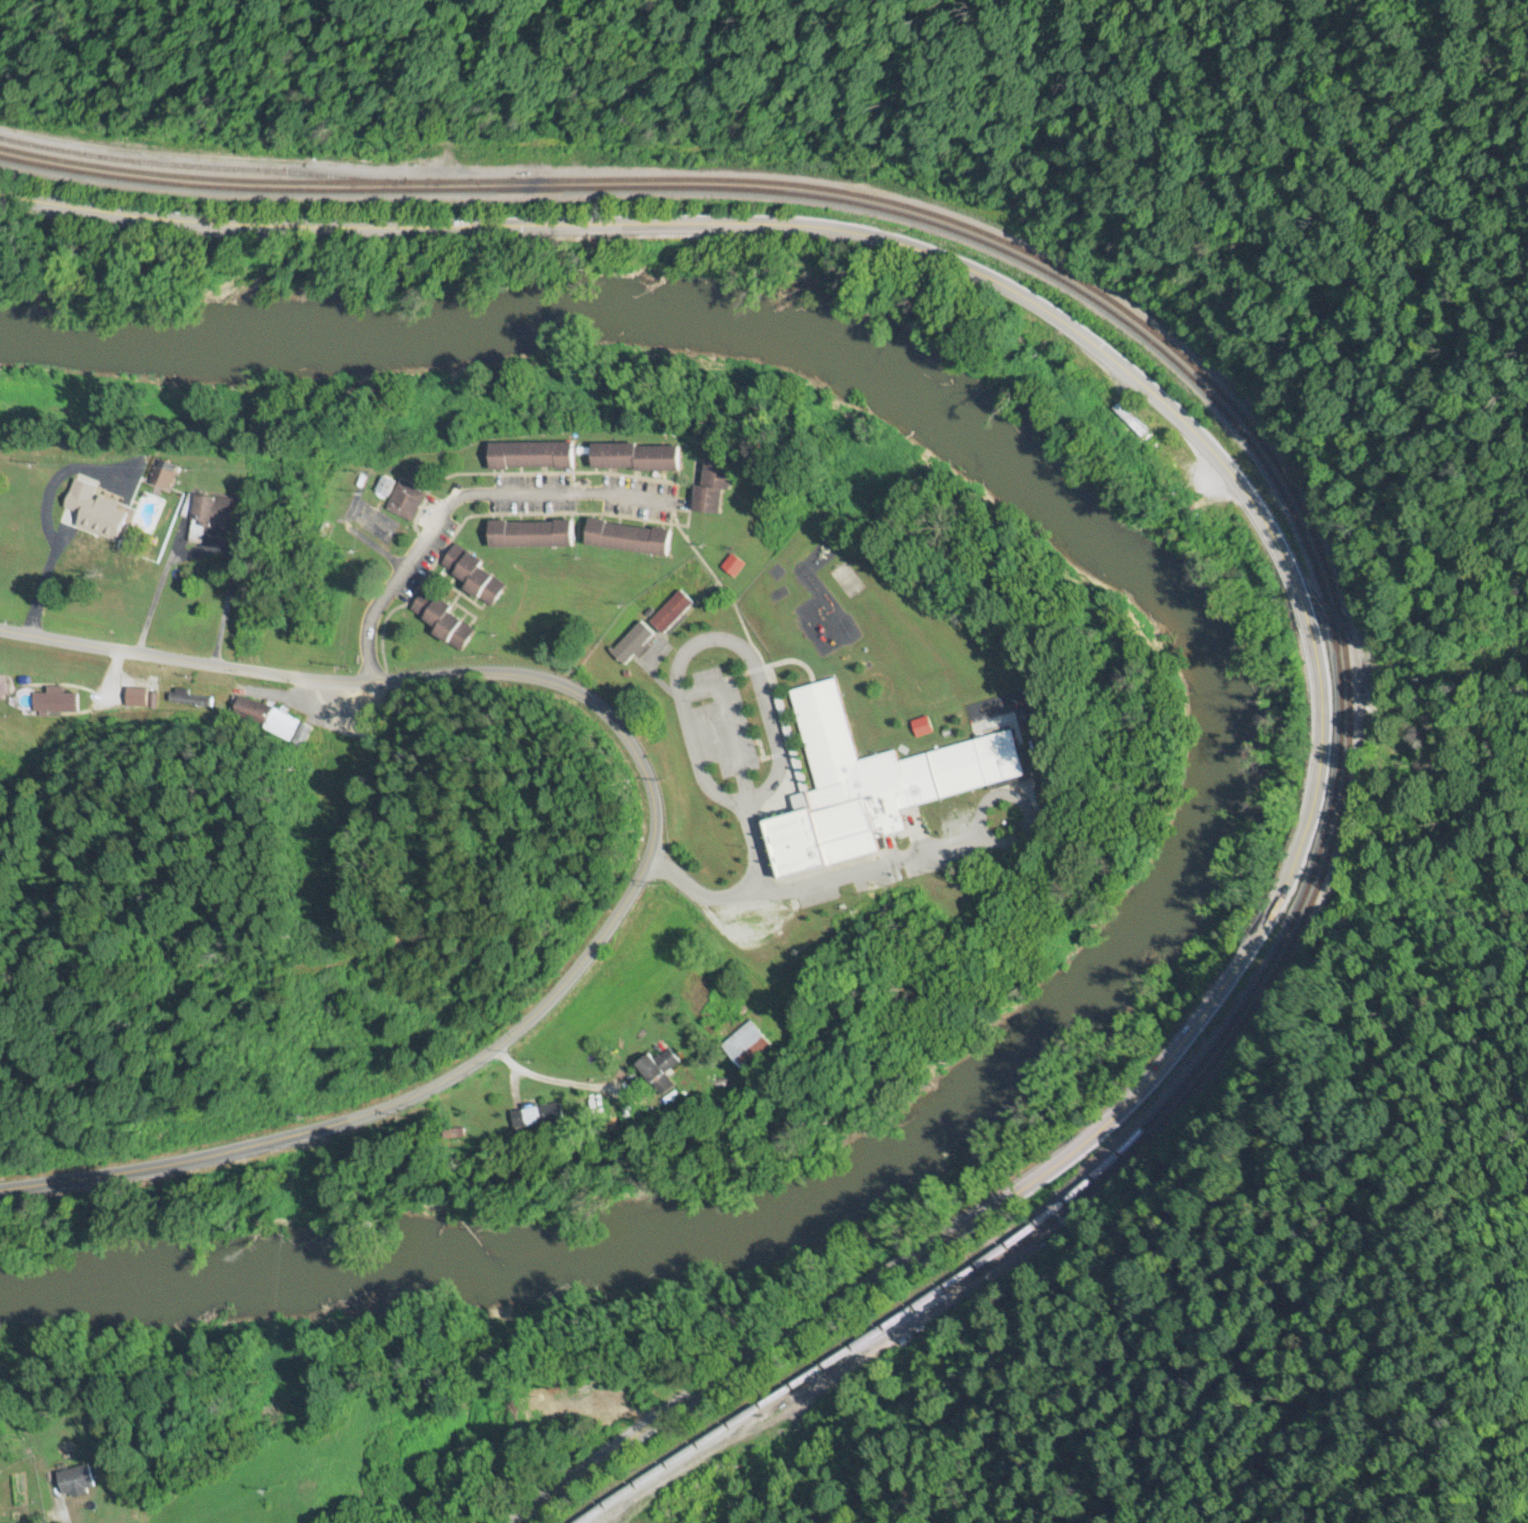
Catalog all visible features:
building: (1128, 424)
building: (533, 456)
building: (637, 458)
building: (161, 477)
railway: (1297, 485)
building: (384, 487)
building: (713, 488)
road: (462, 499)
building: (405, 502)
building: (86, 509)
building: (223, 512)
road: (1268, 531)
building: (532, 535)
building: (629, 538)
building: (473, 576)
building: (671, 613)
building: (443, 620)
building: (632, 644)
road: (704, 691)
building: (139, 702)
building: (922, 727)
building: (301, 736)
river: (1196, 764)
building: (870, 789)
road: (1346, 826)
road: (649, 851)
road: (811, 895)
building: (747, 1046)
building: (660, 1072)
building: (542, 1115)
road: (52, 1456)
building: (76, 1482)

